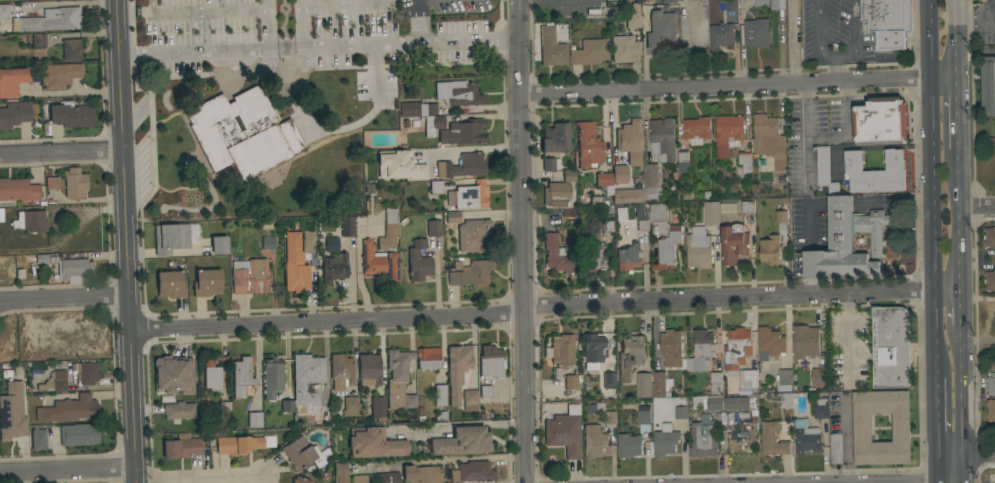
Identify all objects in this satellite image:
building: (647, 0)
building: (668, 2)
building: (762, 3)
road: (300, 4)
building: (777, 4)
building: (731, 5)
road: (345, 7)
building: (702, 8)
road: (202, 9)
building: (5, 10)
building: (886, 14)
road: (991, 16)
building: (633, 17)
road: (414, 18)
road: (973, 18)
building: (51, 20)
road: (266, 23)
road: (854, 26)
road: (818, 27)
road: (301, 28)
building: (661, 33)
building: (756, 33)
building: (721, 35)
road: (956, 39)
building: (38, 40)
road: (792, 41)
road: (318, 46)
building: (551, 48)
building: (71, 49)
building: (624, 49)
road: (876, 51)
building: (588, 52)
road: (836, 53)
road: (975, 53)
road: (837, 67)
road: (712, 72)
building: (59, 75)
building: (12, 80)
road: (736, 84)
building: (988, 86)
road: (72, 93)
building: (458, 94)
road: (479, 112)
road: (957, 114)
building: (71, 115)
building: (423, 115)
building: (13, 116)
road: (369, 116)
building: (880, 121)
road: (846, 129)
building: (696, 130)
building: (463, 133)
building: (242, 134)
building: (728, 134)
park: (258, 135)
road: (806, 137)
building: (556, 138)
building: (663, 139)
building: (769, 140)
building: (630, 141)
building: (588, 146)
building: (991, 148)
road: (467, 149)
road: (61, 153)
building: (745, 162)
building: (550, 164)
building: (684, 164)
building: (399, 165)
building: (462, 166)
building: (825, 171)
building: (876, 173)
building: (619, 174)
building: (569, 176)
building: (651, 182)
building: (52, 183)
building: (74, 184)
building: (435, 187)
road: (934, 189)
building: (618, 190)
building: (18, 192)
building: (556, 194)
building: (467, 196)
building: (601, 204)
road: (893, 205)
building: (747, 207)
road: (840, 207)
road: (977, 208)
building: (711, 213)
building: (621, 214)
building: (781, 215)
road: (807, 215)
building: (452, 217)
building: (641, 218)
road: (959, 220)
building: (30, 221)
building: (346, 226)
building: (606, 226)
building: (434, 228)
building: (388, 230)
building: (474, 236)
building: (664, 236)
building: (989, 237)
building: (170, 238)
building: (308, 240)
road: (125, 241)
road: (521, 241)
building: (846, 242)
building: (267, 243)
building: (331, 244)
building: (733, 244)
building: (219, 245)
building: (699, 248)
building: (770, 249)
building: (558, 255)
building: (628, 258)
building: (41, 259)
building: (593, 259)
building: (378, 262)
building: (418, 262)
building: (294, 265)
building: (334, 268)
building: (73, 271)
building: (19, 274)
building: (471, 274)
building: (249, 277)
building: (989, 280)
building: (206, 283)
building: (170, 285)
road: (532, 290)
road: (741, 298)
road: (64, 299)
road: (960, 308)
road: (326, 324)
road: (847, 339)
building: (805, 342)
building: (770, 343)
building: (891, 347)
building: (671, 348)
building: (737, 348)
building: (593, 351)
building: (701, 351)
building: (562, 353)
building: (630, 356)
building: (428, 359)
building: (752, 364)
building: (490, 365)
building: (369, 370)
building: (457, 371)
building: (84, 372)
building: (340, 372)
building: (212, 374)
building: (173, 375)
building: (241, 377)
building: (819, 377)
building: (272, 379)
building: (608, 379)
building: (398, 380)
building: (784, 380)
building: (749, 381)
building: (54, 382)
building: (570, 382)
building: (715, 383)
building: (304, 384)
building: (650, 385)
building: (991, 386)
building: (439, 395)
building: (484, 395)
building: (470, 400)
building: (786, 400)
building: (706, 403)
building: (739, 403)
road: (962, 404)
building: (350, 406)
building: (598, 407)
building: (378, 408)
building: (821, 409)
building: (69, 410)
building: (990, 410)
building: (179, 411)
building: (12, 412)
building: (681, 413)
building: (439, 417)
road: (939, 417)
building: (609, 418)
building: (644, 418)
building: (719, 418)
building: (254, 420)
building: (800, 424)
building: (901, 428)
building: (564, 432)
building: (79, 435)
building: (38, 439)
building: (703, 440)
building: (772, 440)
building: (806, 440)
road: (846, 440)
building: (592, 441)
building: (665, 441)
building: (268, 442)
building: (462, 442)
building: (374, 444)
building: (236, 446)
building: (629, 446)
building: (182, 447)
building: (836, 448)
building: (302, 454)
road: (967, 454)
road: (940, 469)
road: (67, 471)
building: (475, 472)
building: (340, 473)
building: (420, 475)
road: (199, 476)
building: (388, 478)
building: (363, 479)
building: (299, 480)

